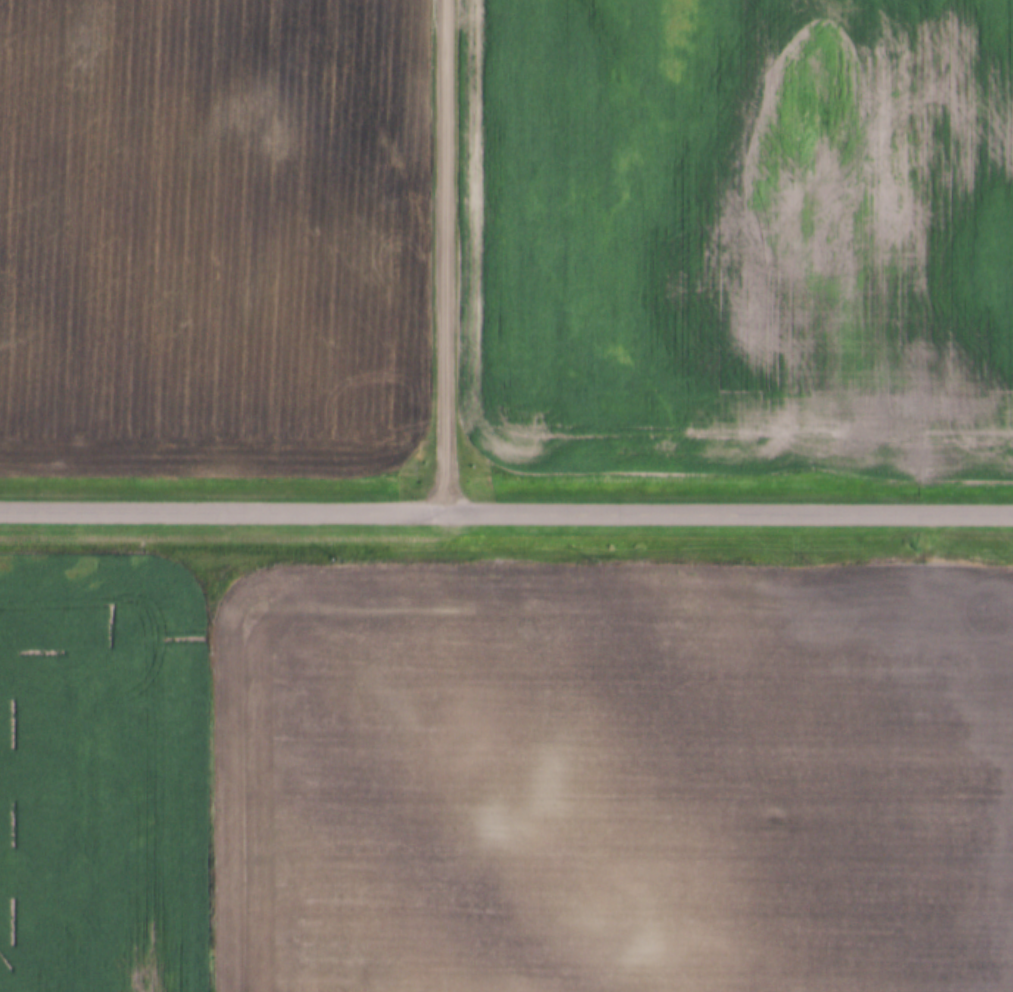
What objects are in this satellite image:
road: (446, 256)
road: (506, 513)

